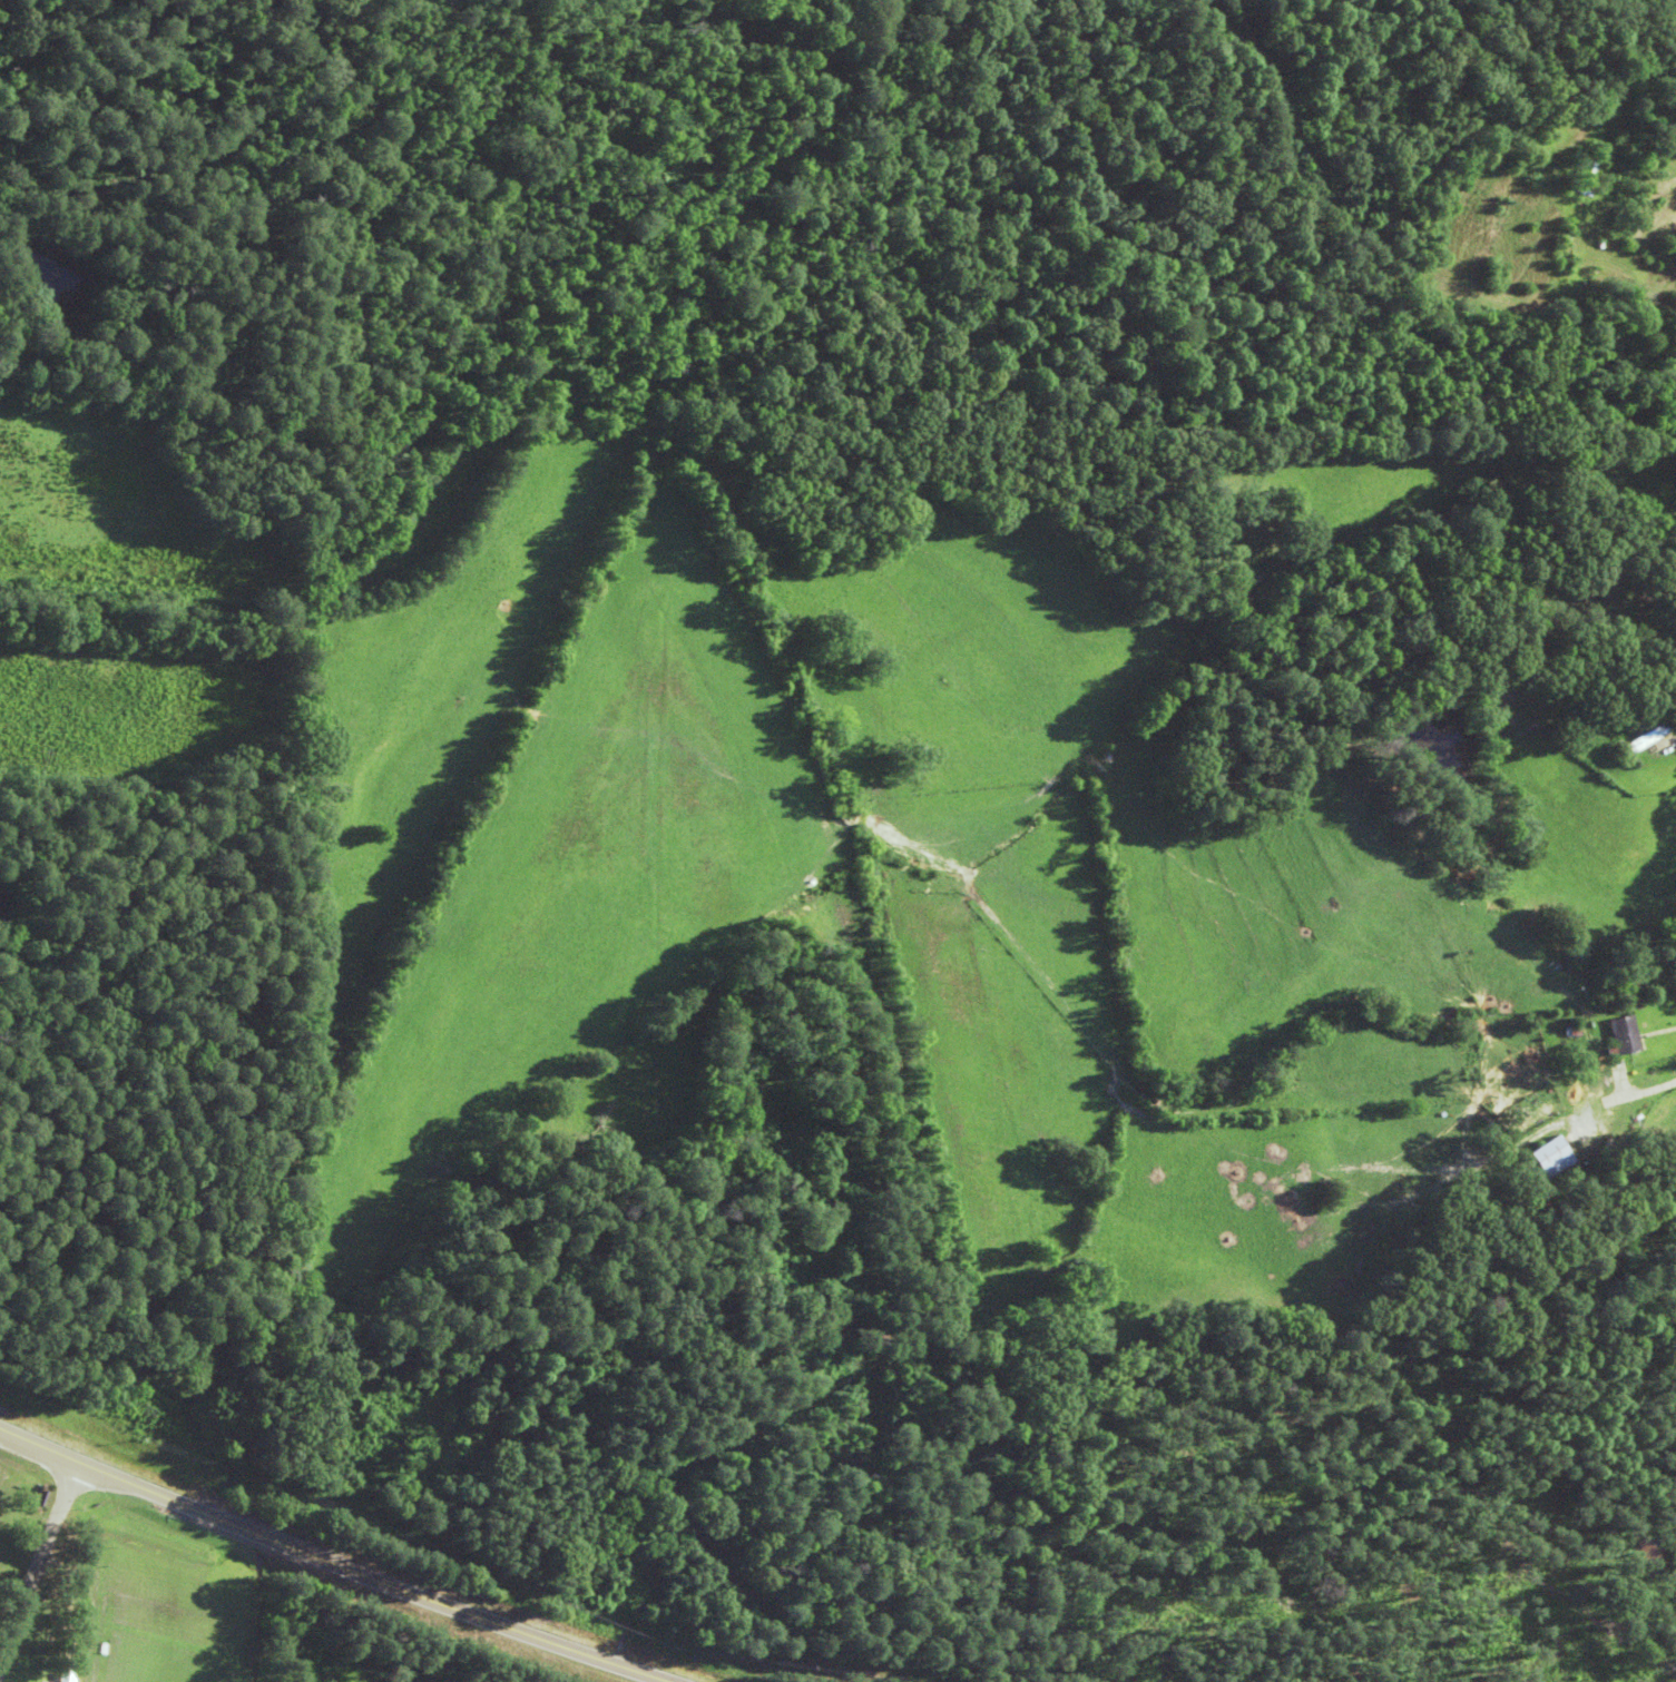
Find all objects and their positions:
building: (1577, 178)
building: (1638, 738)
building: (1618, 1034)
building: (1545, 1157)
road: (332, 1563)
road: (40, 1565)

